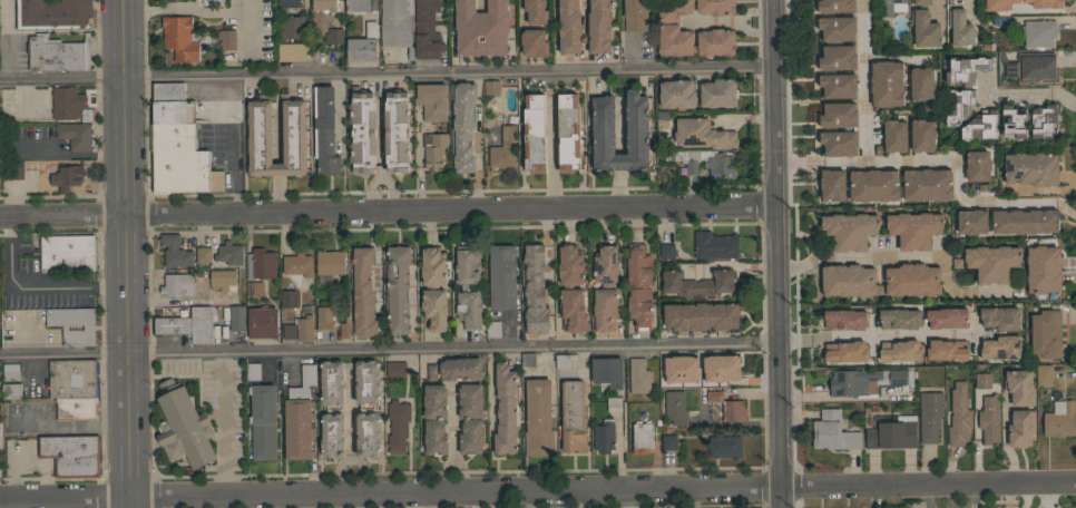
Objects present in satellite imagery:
building: (950, 0)
building: (921, 2)
building: (288, 3)
building: (527, 3)
building: (911, 3)
building: (324, 4)
building: (1040, 4)
building: (356, 6)
road: (150, 7)
building: (715, 7)
building: (824, 7)
building: (890, 7)
road: (219, 10)
road: (584, 10)
building: (673, 10)
building: (52, 13)
building: (635, 16)
building: (1001, 21)
building: (395, 25)
building: (293, 27)
building: (569, 27)
building: (598, 27)
building: (480, 28)
building: (556, 28)
building: (586, 28)
building: (960, 28)
building: (282, 29)
building: (923, 29)
building: (427, 30)
building: (826, 30)
road: (250, 32)
building: (542, 32)
building: (1038, 32)
building: (334, 36)
building: (180, 37)
building: (716, 38)
building: (226, 40)
building: (363, 45)
building: (520, 45)
building: (894, 46)
building: (986, 47)
building: (293, 51)
building: (58, 52)
building: (826, 60)
building: (1034, 68)
road: (385, 77)
building: (876, 86)
building: (911, 86)
building: (491, 87)
building: (828, 87)
building: (167, 91)
building: (677, 94)
building: (717, 94)
road: (1015, 97)
building: (966, 99)
building: (432, 100)
building: (66, 102)
building: (173, 111)
building: (87, 115)
building: (828, 117)
road: (380, 121)
building: (1013, 121)
building: (1041, 121)
road: (619, 124)
building: (462, 125)
building: (603, 125)
building: (1001, 125)
building: (324, 130)
building: (293, 131)
building: (397, 131)
building: (362, 133)
building: (534, 133)
building: (568, 133)
building: (702, 134)
building: (76, 135)
building: (911, 138)
building: (883, 139)
road: (342, 144)
road: (233, 145)
building: (505, 145)
building: (828, 145)
building: (433, 149)
road: (554, 152)
road: (67, 154)
road: (880, 159)
building: (180, 160)
building: (692, 160)
road: (619, 162)
building: (720, 165)
building: (686, 168)
building: (967, 168)
building: (1030, 168)
building: (17, 169)
building: (67, 177)
building: (945, 185)
building: (916, 186)
building: (848, 187)
road: (371, 188)
road: (389, 188)
road: (619, 188)
road: (1037, 189)
road: (388, 209)
building: (961, 224)
building: (1015, 224)
building: (913, 228)
building: (848, 232)
building: (714, 245)
building: (174, 251)
building: (666, 251)
building: (67, 253)
road: (125, 253)
building: (203, 254)
building: (228, 254)
road: (776, 254)
road: (852, 258)
building: (330, 262)
building: (991, 262)
building: (955, 263)
building: (260, 264)
building: (297, 265)
building: (1043, 268)
building: (502, 276)
building: (221, 280)
building: (848, 280)
building: (911, 281)
building: (696, 283)
building: (176, 285)
road: (33, 286)
building: (638, 286)
building: (433, 287)
building: (463, 287)
building: (398, 289)
building: (570, 289)
building: (605, 289)
building: (254, 290)
building: (534, 291)
building: (362, 293)
building: (287, 299)
building: (979, 314)
building: (324, 315)
building: (842, 315)
building: (700, 316)
building: (902, 316)
building: (236, 319)
building: (940, 320)
building: (262, 322)
building: (74, 324)
building: (188, 324)
building: (304, 328)
building: (344, 328)
building: (492, 329)
building: (287, 330)
road: (883, 333)
building: (1045, 334)
building: (990, 350)
road: (389, 351)
building: (903, 353)
building: (843, 354)
building: (947, 354)
building: (527, 359)
building: (561, 361)
building: (666, 364)
building: (395, 369)
building: (454, 369)
building: (253, 371)
building: (607, 371)
building: (10, 372)
building: (725, 372)
building: (638, 375)
building: (1041, 375)
building: (74, 378)
building: (865, 380)
building: (979, 381)
building: (332, 382)
building: (366, 382)
building: (1018, 388)
building: (11, 391)
building: (470, 400)
building: (434, 401)
building: (675, 407)
building: (75, 408)
building: (506, 410)
building: (733, 410)
road: (350, 413)
building: (930, 414)
building: (958, 416)
building: (299, 417)
building: (573, 417)
building: (537, 418)
building: (1057, 419)
building: (988, 420)
building: (263, 421)
road: (69, 423)
building: (398, 424)
building: (183, 426)
building: (1020, 428)
building: (832, 431)
road: (977, 432)
building: (892, 433)
building: (368, 434)
building: (332, 436)
building: (470, 437)
building: (603, 437)
building: (640, 437)
building: (434, 438)
building: (668, 441)
building: (724, 446)
building: (492, 452)
building: (165, 453)
building: (71, 455)
road: (349, 459)
road: (537, 491)
road: (625, 499)
road: (428, 500)
road: (527, 500)
road: (219, 502)
road: (55, 504)
road: (11, 505)

